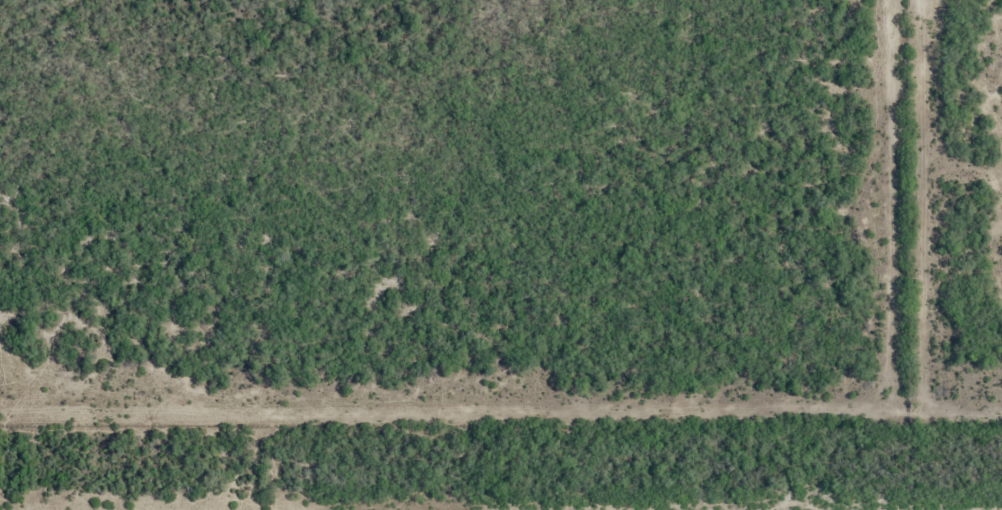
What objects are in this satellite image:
road: (864, 257)

